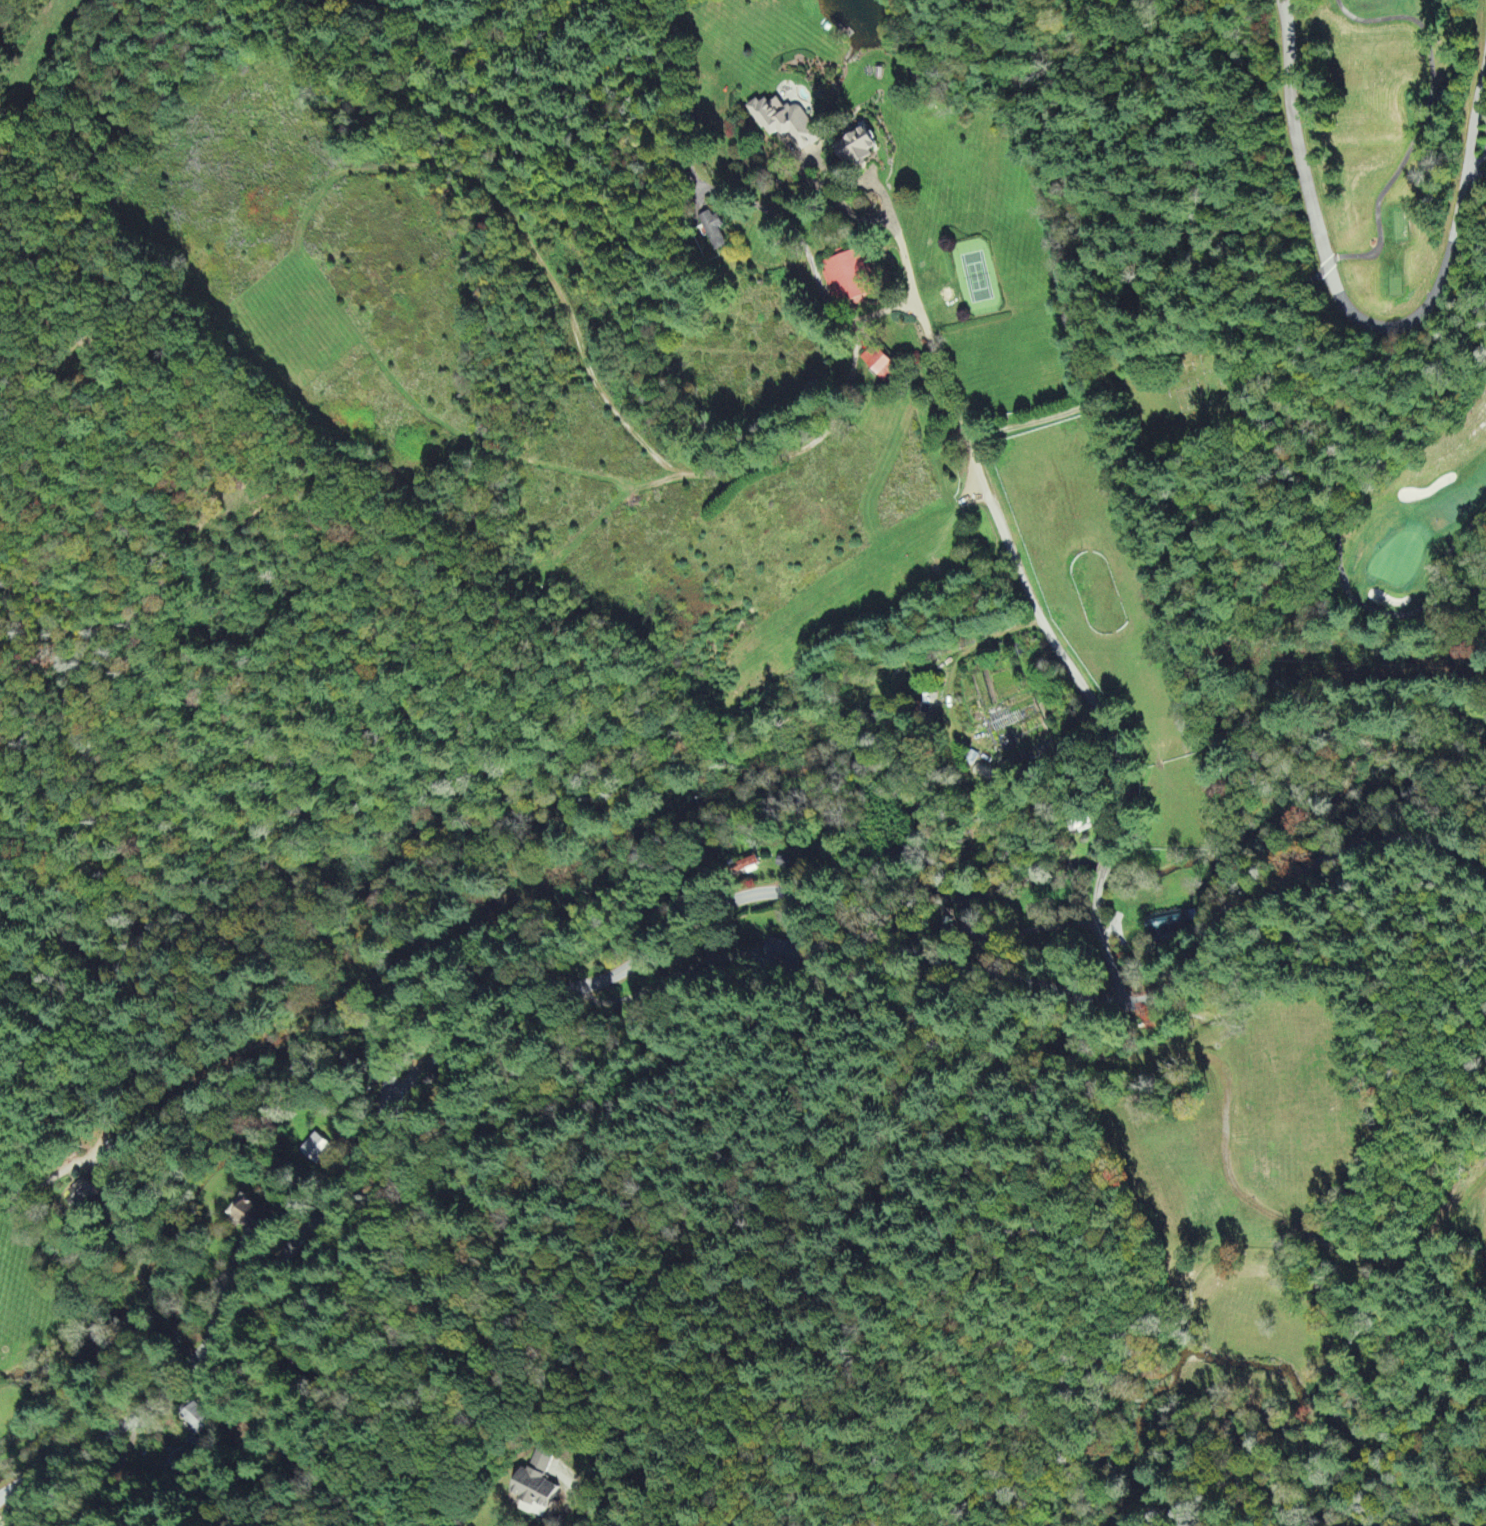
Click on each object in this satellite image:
building: (784, 123)
building: (855, 148)
building: (712, 230)
building: (847, 281)
park: (1384, 297)
road: (1351, 314)
building: (877, 365)
park: (1199, 398)
road: (1037, 422)
road: (1024, 592)
road: (1105, 867)
road: (665, 942)
road: (1102, 943)
road: (149, 952)
road: (555, 1193)
building: (80, 1194)
building: (251, 1216)
road: (326, 1345)
building: (194, 1420)
building: (534, 1487)

